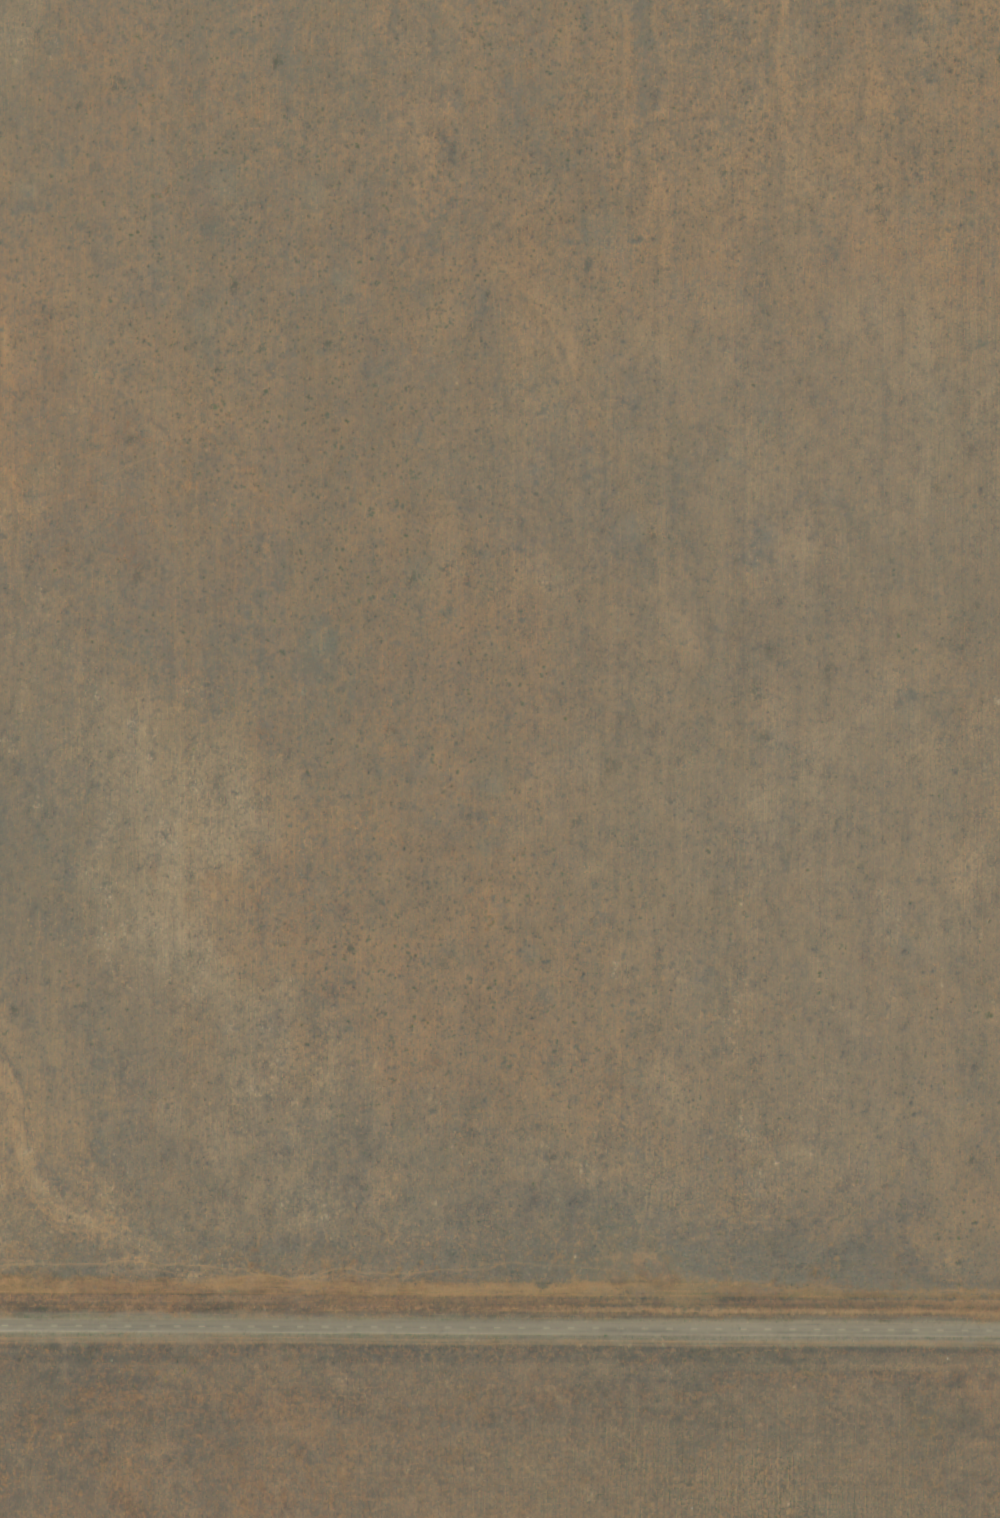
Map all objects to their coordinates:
road: (500, 1329)

